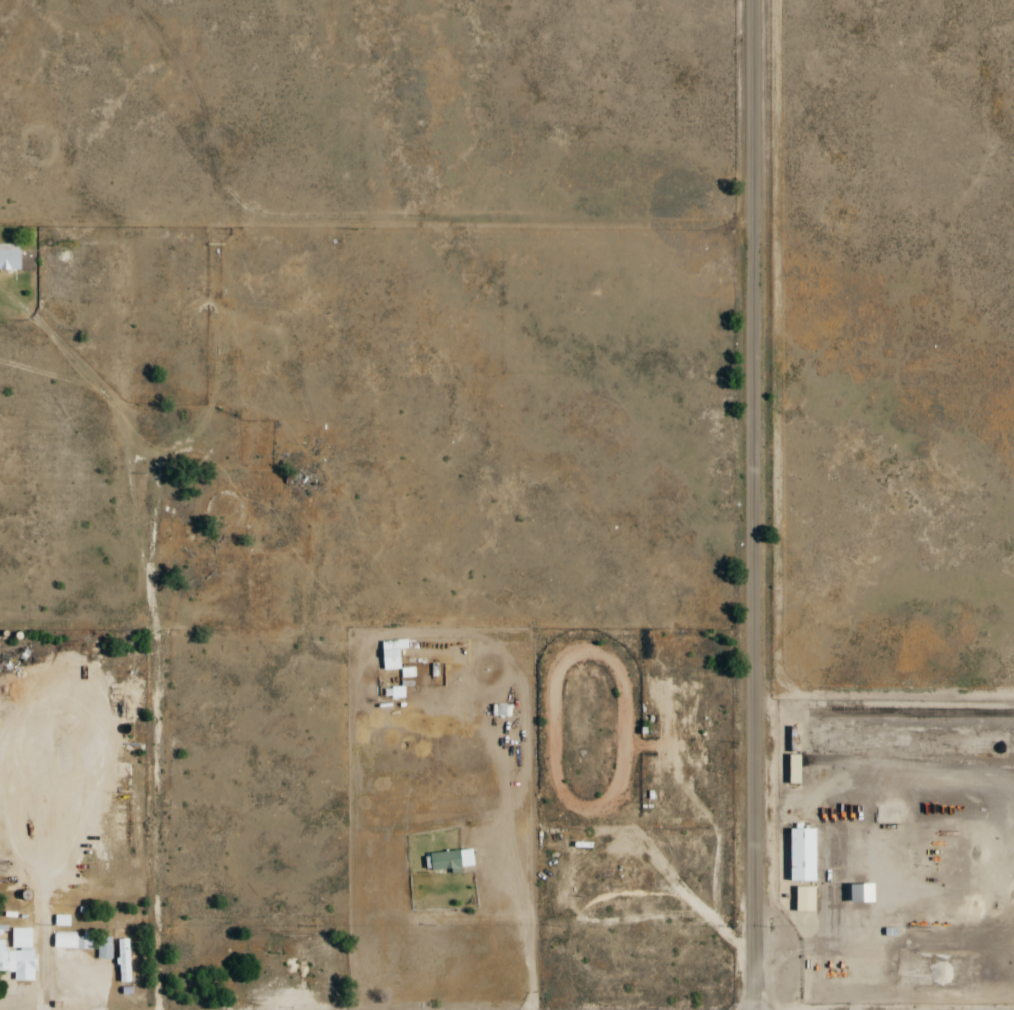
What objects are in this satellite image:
building: (9, 257)
road: (754, 505)
road: (156, 786)
building: (802, 855)
building: (589, 881)
building: (860, 894)
building: (805, 899)
building: (72, 939)
building: (105, 948)
building: (18, 954)
building: (264, 958)
building: (124, 961)

